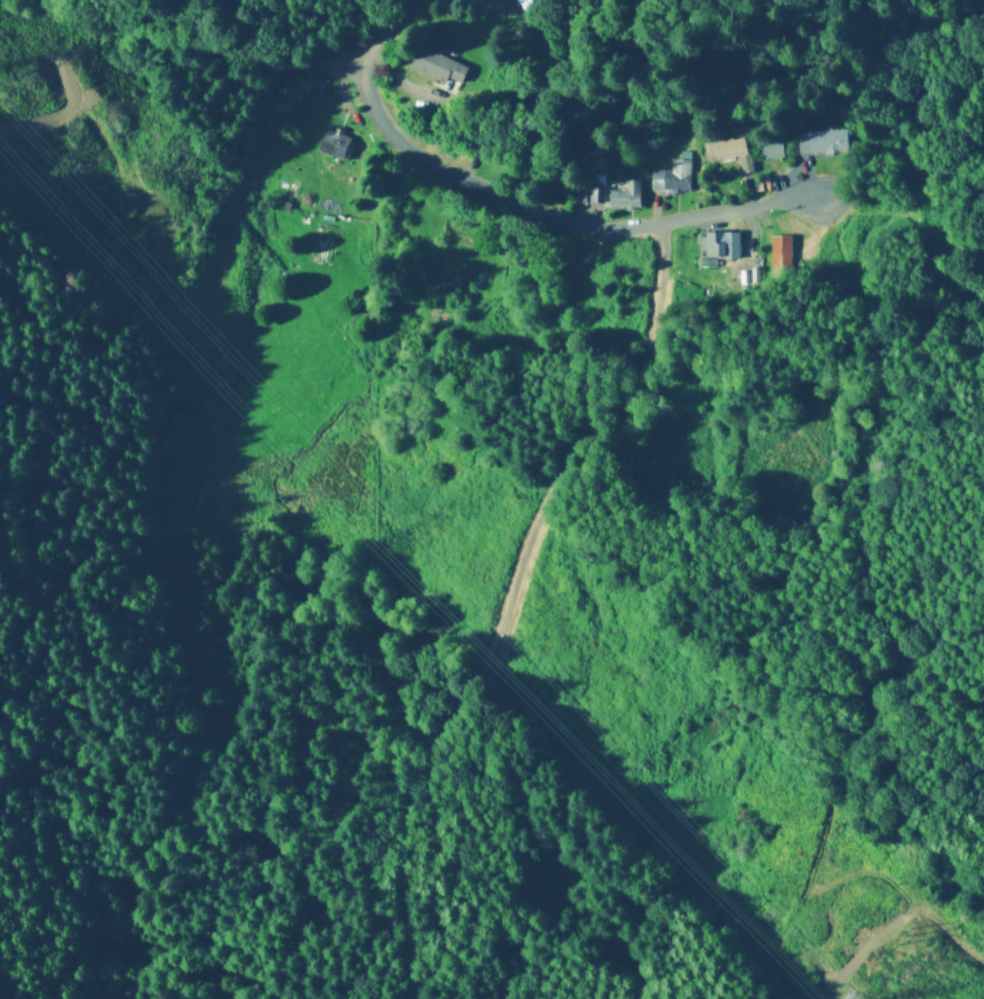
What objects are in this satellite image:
road: (247, 38)
building: (431, 70)
building: (309, 91)
building: (288, 112)
building: (823, 143)
building: (333, 144)
building: (726, 149)
building: (769, 150)
building: (670, 179)
building: (624, 197)
road: (533, 208)
building: (717, 250)
building: (783, 256)
power tower: (909, 934)

